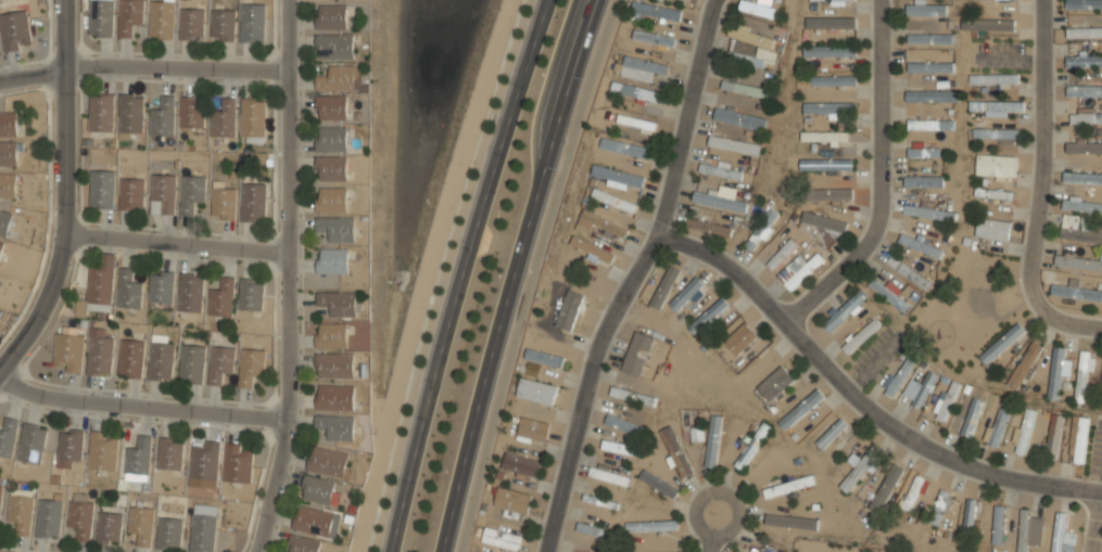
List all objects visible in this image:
building: (837, 1)
building: (1084, 4)
building: (758, 9)
building: (926, 9)
building: (656, 10)
building: (129, 17)
building: (331, 17)
building: (100, 18)
building: (162, 21)
building: (833, 22)
building: (252, 24)
building: (987, 24)
building: (191, 25)
building: (221, 26)
building: (14, 30)
building: (1084, 33)
building: (751, 35)
building: (929, 36)
building: (655, 37)
building: (334, 48)
building: (825, 53)
building: (746, 57)
building: (1084, 61)
road: (140, 66)
building: (929, 66)
building: (641, 67)
building: (993, 78)
building: (337, 79)
building: (833, 79)
building: (745, 88)
building: (1085, 90)
building: (637, 92)
building: (933, 95)
building: (996, 105)
building: (827, 107)
building: (331, 108)
building: (192, 114)
building: (100, 116)
building: (1086, 116)
building: (130, 117)
building: (739, 117)
building: (162, 118)
building: (252, 118)
building: (224, 120)
building: (636, 121)
building: (9, 123)
building: (929, 125)
building: (995, 134)
building: (824, 136)
building: (331, 139)
building: (734, 144)
building: (626, 146)
building: (1084, 146)
building: (923, 150)
building: (9, 153)
road: (1043, 156)
building: (825, 164)
building: (996, 165)
building: (721, 169)
building: (331, 170)
building: (1082, 172)
building: (618, 177)
road: (882, 181)
building: (930, 181)
building: (8, 185)
building: (101, 189)
building: (992, 192)
road: (62, 193)
building: (129, 194)
building: (162, 194)
building: (190, 194)
building: (829, 194)
building: (613, 198)
building: (719, 198)
building: (331, 202)
building: (252, 203)
building: (223, 204)
building: (1081, 205)
building: (929, 211)
building: (823, 220)
building: (4, 222)
building: (598, 223)
building: (709, 227)
building: (992, 228)
building: (1079, 229)
building: (337, 230)
building: (762, 230)
road: (173, 241)
building: (920, 245)
building: (1, 246)
building: (781, 254)
building: (591, 257)
building: (332, 261)
building: (1078, 262)
building: (803, 270)
building: (909, 271)
road: (461, 273)
road: (514, 273)
road: (532, 273)
road: (637, 277)
road: (281, 278)
building: (98, 287)
building: (664, 287)
building: (161, 288)
building: (128, 291)
building: (1076, 292)
building: (686, 293)
building: (190, 294)
building: (889, 294)
building: (251, 296)
building: (221, 299)
building: (339, 305)
building: (844, 310)
building: (708, 314)
building: (567, 319)
road: (1071, 325)
building: (861, 335)
building: (331, 336)
building: (740, 338)
building: (1001, 343)
building: (68, 351)
building: (99, 354)
building: (637, 354)
building: (544, 357)
building: (130, 359)
building: (160, 362)
building: (1024, 363)
building: (191, 364)
building: (220, 364)
building: (334, 365)
building: (251, 367)
building: (1057, 370)
building: (900, 375)
building: (1084, 376)
building: (774, 382)
building: (923, 388)
building: (537, 390)
building: (632, 395)
building: (1101, 395)
building: (334, 398)
building: (946, 400)
road: (136, 401)
road: (861, 402)
building: (800, 409)
building: (972, 416)
building: (625, 424)
building: (335, 427)
building: (998, 427)
building: (533, 428)
building: (1025, 431)
building: (696, 434)
building: (1053, 435)
building: (8, 437)
building: (825, 438)
building: (1078, 439)
building: (713, 440)
building: (31, 444)
building: (752, 445)
building: (69, 446)
building: (619, 448)
building: (675, 451)
building: (102, 452)
building: (170, 455)
building: (138, 460)
building: (203, 461)
building: (328, 462)
building: (238, 465)
building: (520, 465)
building: (859, 468)
building: (610, 474)
building: (658, 483)
building: (887, 484)
building: (789, 486)
building: (318, 491)
building: (913, 492)
building: (0, 501)
building: (511, 501)
building: (940, 506)
building: (20, 511)
building: (970, 513)
building: (80, 515)
building: (48, 518)
building: (790, 521)
building: (313, 522)
building: (140, 524)
road: (1095, 524)
building: (651, 525)
building: (998, 525)
road: (714, 527)
building: (109, 528)
building: (593, 529)
building: (1024, 529)
building: (168, 534)
building: (202, 534)
building: (1063, 535)
building: (501, 538)
building: (302, 544)
building: (738, 551)

